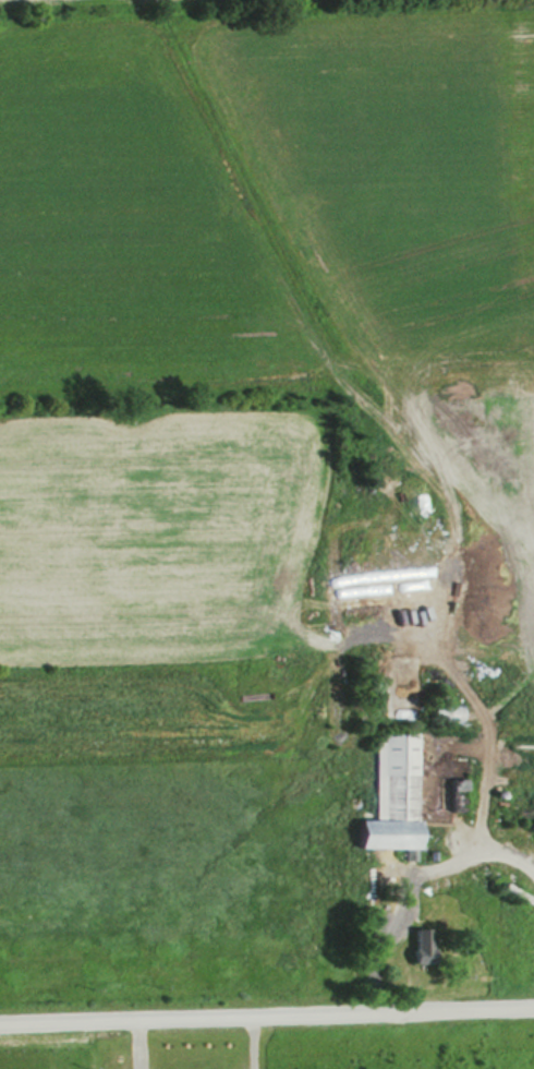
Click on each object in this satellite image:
building: (438, 713)
road: (489, 719)
building: (388, 818)
road: (409, 885)
building: (422, 949)
road: (267, 1014)
road: (248, 1042)

